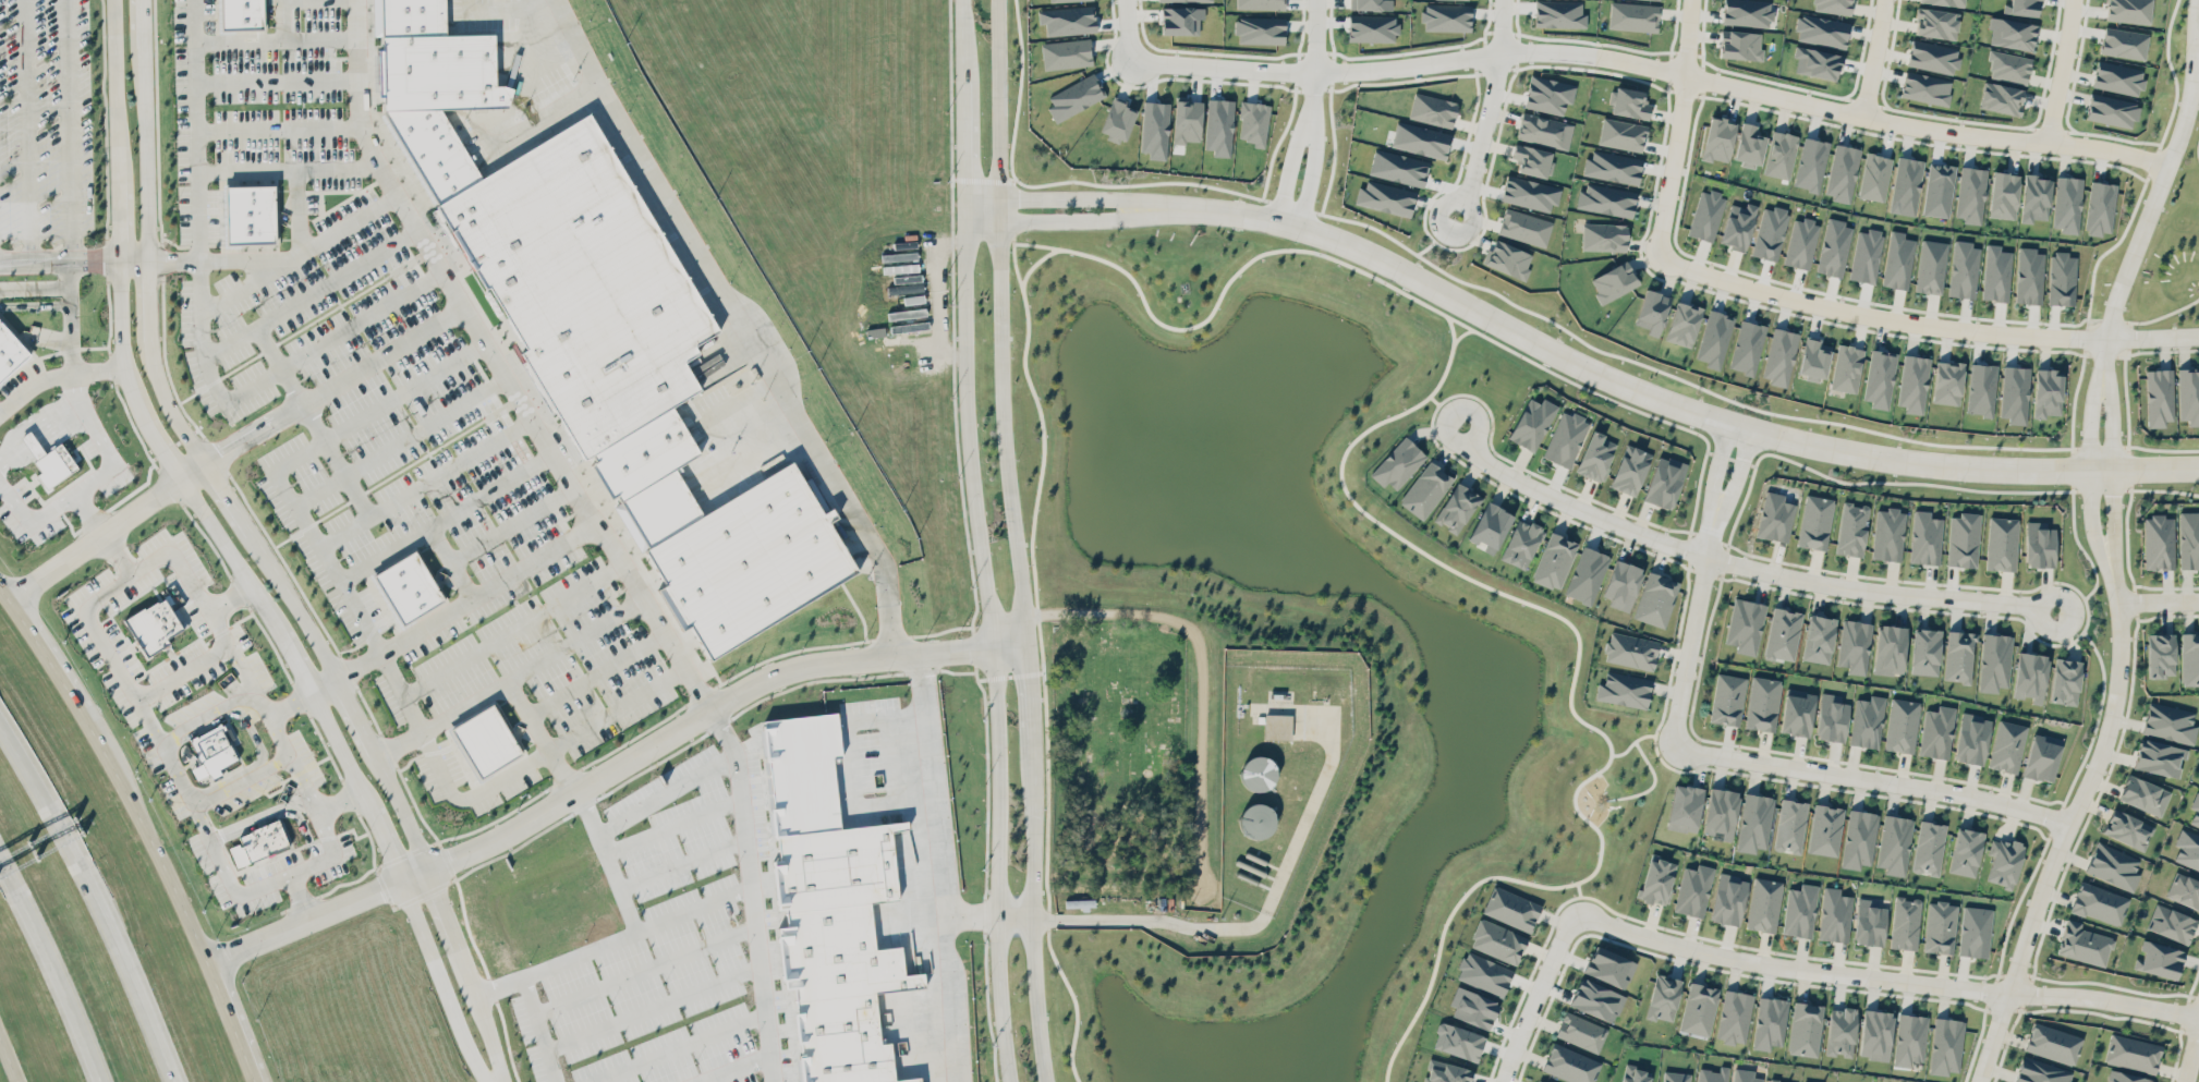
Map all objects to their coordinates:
building: (1067, 0)
building: (1193, 0)
building: (1945, 2)
building: (1260, 3)
building: (1370, 4)
building: (1832, 5)
building: (2022, 7)
building: (2128, 10)
building: (1747, 12)
building: (1558, 13)
building: (241, 14)
building: (1633, 15)
building: (1446, 16)
road: (288, 19)
building: (1067, 20)
building: (1180, 20)
building: (1935, 23)
building: (1372, 27)
road: (1129, 29)
building: (1259, 29)
building: (1821, 31)
building: (2012, 34)
road: (274, 37)
building: (2124, 42)
building: (1740, 45)
building: (1066, 52)
building: (1932, 56)
road: (1874, 57)
building: (1817, 62)
road: (1653, 65)
building: (2008, 65)
road: (1314, 68)
road: (2060, 71)
road: (275, 77)
building: (2117, 77)
building: (1925, 87)
building: (1547, 94)
building: (1074, 96)
building: (462, 98)
building: (2002, 98)
road: (1490, 101)
building: (1629, 102)
building: (1432, 109)
building: (2112, 109)
building: (1117, 119)
building: (1187, 120)
building: (1253, 122)
road: (276, 129)
building: (1154, 129)
road: (1677, 129)
road: (25, 130)
road: (66, 130)
building: (1541, 130)
building: (1621, 134)
building: (1717, 138)
building: (1420, 139)
parking lot: (50, 141)
building: (1748, 145)
building: (1779, 154)
building: (1532, 160)
building: (1811, 163)
building: (1612, 167)
road: (287, 170)
building: (1842, 172)
building: (1874, 177)
building: (1906, 185)
building: (1939, 190)
building: (1529, 193)
road: (2155, 193)
building: (1970, 194)
building: (2003, 195)
road: (1048, 196)
building: (1385, 197)
building: (2034, 198)
building: (1606, 199)
road: (1448, 200)
building: (2067, 204)
building: (2100, 208)
road: (295, 212)
parking lot: (350, 212)
building: (250, 214)
building: (1705, 215)
road: (1048, 219)
road: (1286, 220)
building: (1738, 226)
building: (1524, 227)
building: (1770, 232)
building: (1603, 236)
building: (1800, 243)
building: (1833, 247)
road: (297, 253)
building: (1866, 255)
road: (221, 257)
building: (1508, 258)
road: (73, 260)
building: (1898, 260)
building: (1931, 266)
building: (1964, 269)
building: (1996, 272)
building: (2028, 276)
building: (2062, 278)
building: (1613, 281)
building: (906, 283)
road: (29, 289)
road: (308, 293)
building: (606, 294)
building: (913, 299)
building: (1652, 311)
building: (906, 313)
road: (61, 315)
road: (741, 323)
road: (1922, 323)
building: (1682, 324)
building: (909, 326)
road: (198, 329)
building: (1714, 338)
building: (1747, 347)
building: (10, 351)
building: (1779, 356)
building: (1814, 358)
road: (497, 366)
building: (1846, 367)
road: (57, 373)
building: (1880, 378)
building: (1947, 381)
road: (331, 382)
building: (1914, 382)
building: (1981, 389)
building: (2048, 392)
building: (2014, 393)
road: (1651, 394)
building: (2188, 394)
building: (2159, 397)
road: (34, 418)
road: (311, 420)
building: (1532, 423)
building: (1565, 437)
road: (399, 440)
building: (1595, 457)
road: (199, 458)
road: (969, 459)
road: (1006, 459)
road: (1716, 461)
building: (1398, 463)
road: (170, 464)
building: (53, 465)
road: (2111, 466)
road: (1739, 469)
road: (2088, 469)
building: (1629, 470)
road: (93, 478)
road: (422, 481)
building: (1664, 482)
building: (1425, 489)
building: (1457, 508)
road: (86, 513)
road: (444, 516)
building: (1775, 518)
building: (1815, 521)
road: (509, 525)
building: (1851, 528)
road: (104, 530)
building: (1888, 534)
building: (1925, 537)
building: (1964, 539)
building: (2189, 539)
building: (2159, 542)
building: (1521, 543)
building: (2002, 543)
building: (2039, 545)
road: (116, 554)
building: (1554, 560)
road: (448, 562)
building: (749, 564)
road: (1740, 564)
building: (1587, 574)
road: (130, 576)
building: (1621, 584)
building: (406, 587)
parking lot: (477, 593)
road: (229, 597)
building: (1655, 599)
road: (2158, 599)
road: (452, 607)
road: (1692, 624)
building: (1746, 625)
building: (153, 627)
road: (512, 629)
building: (1783, 633)
road: (574, 639)
building: (1819, 639)
road: (372, 640)
building: (1854, 645)
building: (1890, 649)
building: (1630, 651)
building: (1925, 651)
building: (2161, 655)
building: (1958, 656)
building: (2189, 658)
building: (1994, 661)
road: (182, 670)
road: (596, 673)
building: (2030, 676)
building: (2065, 681)
building: (1623, 689)
building: (1727, 698)
road: (257, 703)
building: (1762, 703)
building: (1797, 712)
road: (205, 715)
road: (268, 715)
building: (1831, 717)
road: (441, 718)
building: (1867, 721)
building: (2170, 722)
building: (1902, 725)
building: (1277, 726)
building: (1936, 731)
road: (539, 737)
building: (1971, 738)
building: (484, 741)
building: (2006, 745)
building: (212, 750)
building: (2041, 756)
park: (1119, 757)
building: (2159, 757)
road: (610, 770)
road: (177, 771)
building: (1258, 773)
road: (241, 778)
road: (1869, 778)
road: (666, 792)
building: (2143, 794)
building: (633, 797)
road: (338, 801)
building: (1685, 807)
building: (2195, 810)
building: (1721, 813)
building: (1255, 819)
road: (2068, 819)
building: (1754, 822)
road: (671, 825)
building: (1790, 825)
road: (141, 828)
building: (2127, 828)
building: (1825, 829)
building: (1859, 838)
building: (258, 842)
park: (1552, 842)
building: (1894, 843)
road: (331, 846)
building: (1929, 847)
building: (2187, 849)
building: (1966, 851)
road: (608, 861)
building: (2005, 862)
road: (681, 864)
building: (2113, 865)
road: (933, 867)
road: (224, 873)
building: (1656, 880)
building: (1693, 890)
building: (2184, 890)
building: (1728, 898)
road: (96, 900)
building: (2099, 903)
building: (1763, 904)
building: (1510, 908)
road: (697, 909)
building: (1799, 910)
building: (1834, 914)
road: (967, 917)
building: (1869, 922)
building: (1905, 923)
building: (2171, 923)
road: (1252, 924)
building: (1940, 926)
building: (1975, 931)
building: (1497, 940)
building: (2083, 944)
building: (838, 948)
building: (2160, 959)
building: (1609, 966)
road: (52, 968)
road: (644, 971)
building: (1483, 973)
road: (469, 974)
road: (1883, 977)
road: (761, 978)
road: (440, 982)
road: (1534, 994)
building: (1663, 997)
road: (998, 999)
road: (1037, 999)
building: (1596, 999)
building: (1472, 1007)
road: (654, 1008)
building: (1699, 1008)
building: (1734, 1017)
building: (1770, 1022)
road: (539, 1029)
building: (1805, 1029)
building: (1581, 1031)
building: (1840, 1031)
building: (1875, 1034)
building: (1910, 1038)
building: (1457, 1041)
building: (2053, 1043)
building: (1946, 1045)
road: (2190, 1046)
road: (681, 1047)
building: (2131, 1053)
road: (9, 1059)
building: (1570, 1065)
road: (738, 1068)
building: (2040, 1071)
building: (1445, 1072)
building: (1633, 1074)
building: (1712, 1074)
building: (1744, 1075)
building: (1675, 1077)
building: (2126, 1078)
building: (1538, 1081)
building: (1774, 1081)

